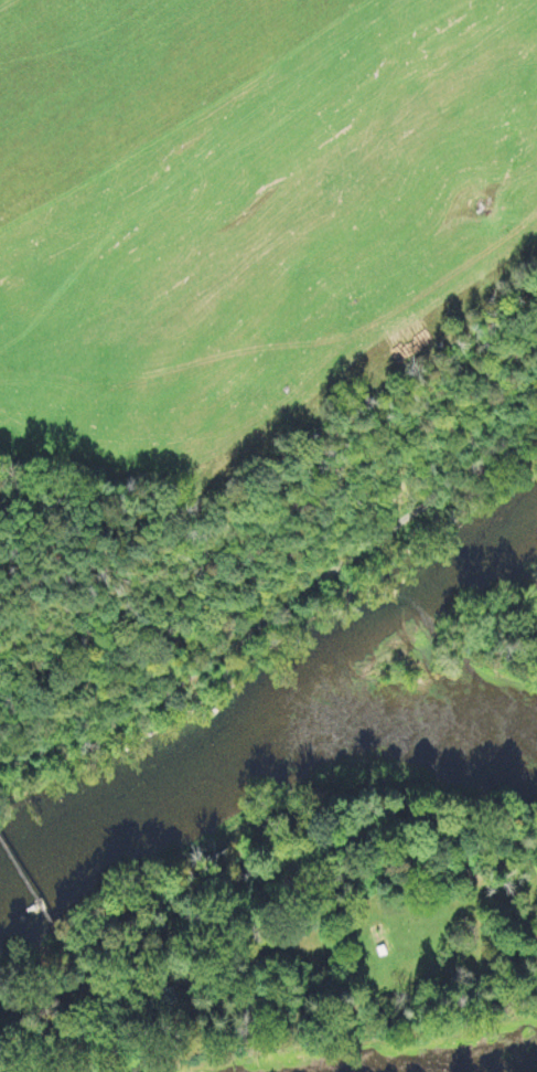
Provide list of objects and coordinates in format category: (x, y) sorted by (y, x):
road: (276, 608)
river: (394, 626)
river: (255, 749)
river: (475, 1061)

